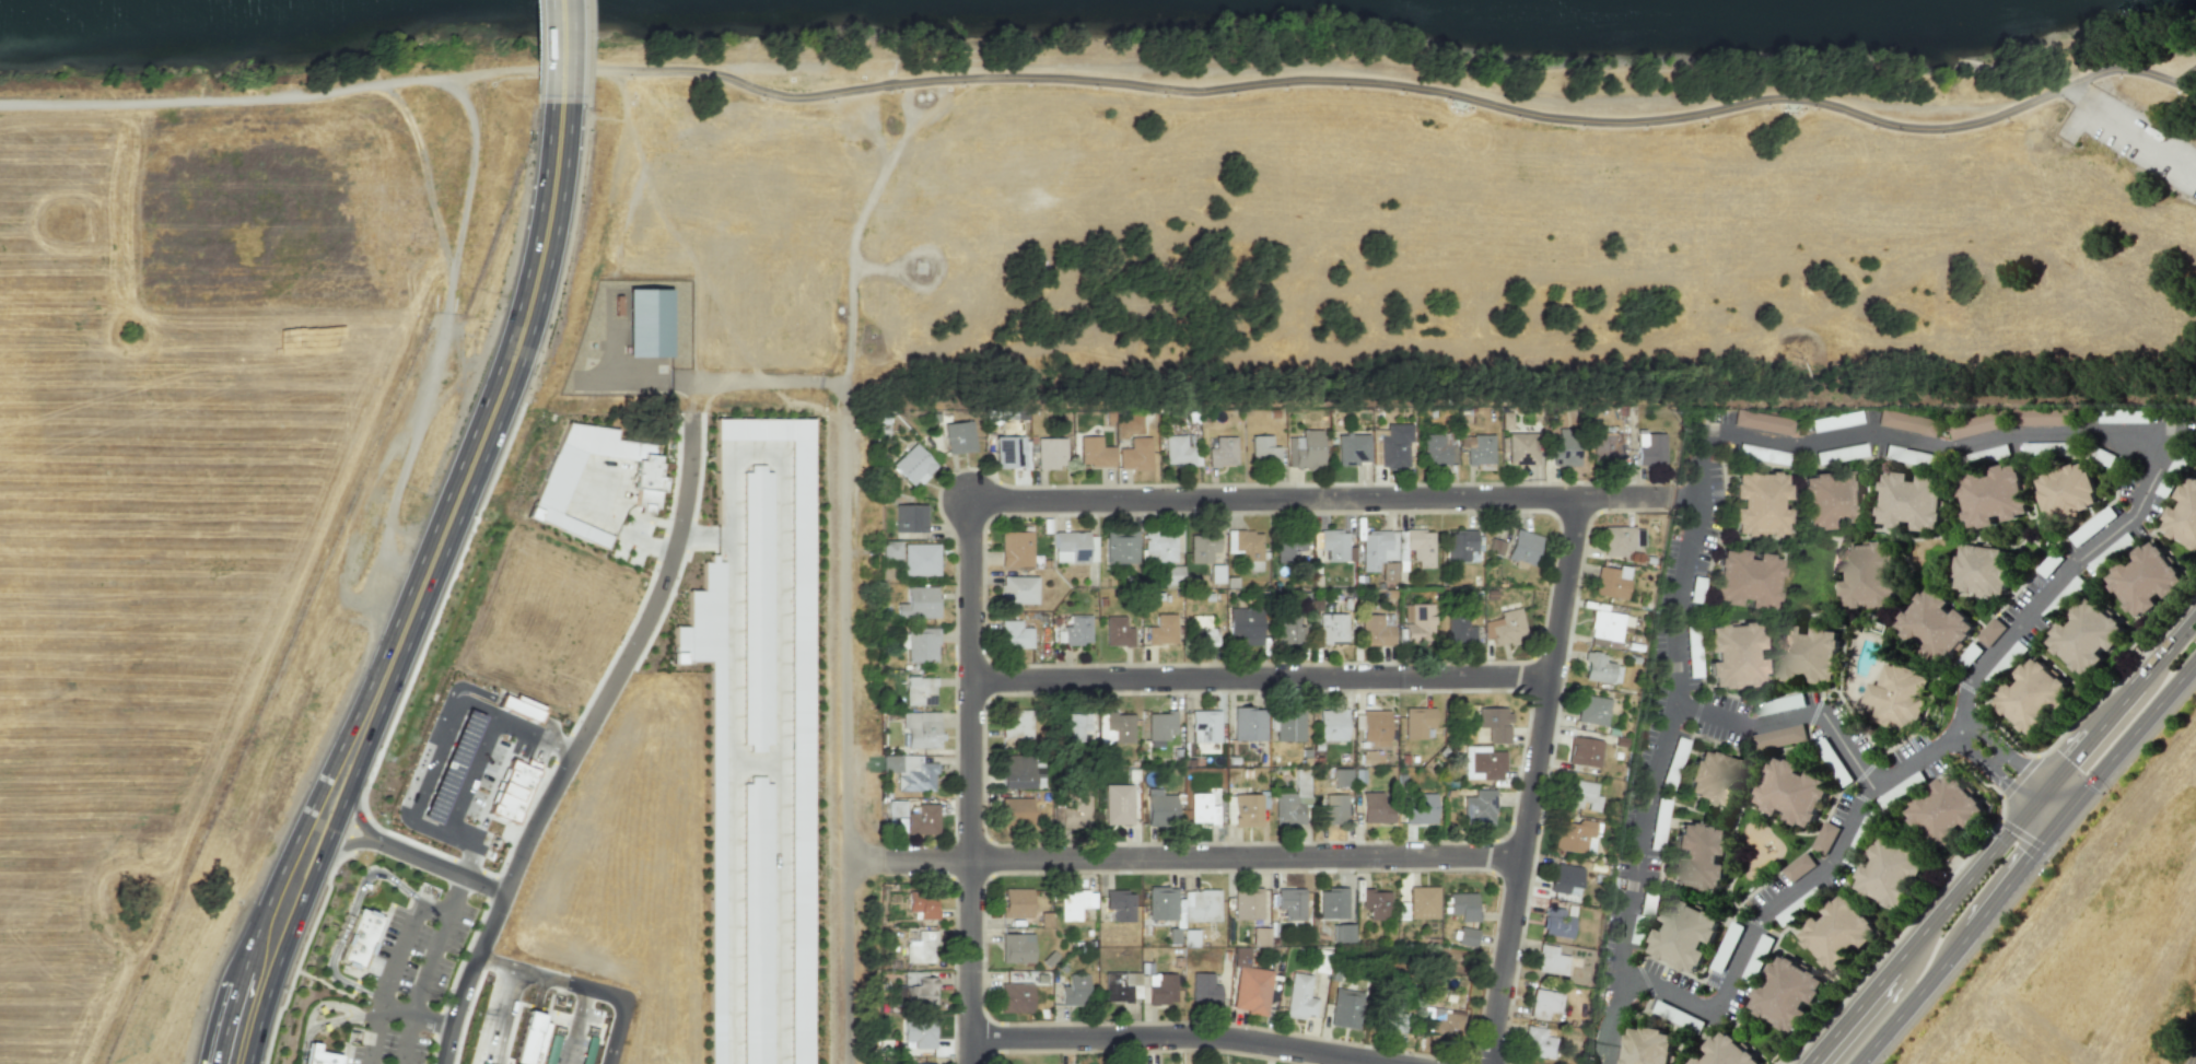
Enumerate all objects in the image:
road: (560, 49)
road: (706, 66)
road: (863, 67)
road: (513, 68)
road: (932, 79)
road: (399, 81)
road: (1575, 97)
road: (187, 103)
road: (855, 114)
parking lot: (2145, 142)
road: (424, 172)
road: (468, 183)
road: (671, 226)
road: (852, 241)
road: (907, 255)
road: (876, 266)
building: (649, 319)
street lamp: (527, 400)
road: (801, 404)
building: (2122, 413)
building: (2042, 414)
building: (1836, 419)
building: (1763, 420)
building: (1908, 421)
building: (1978, 422)
road: (483, 435)
building: (959, 435)
building: (1395, 444)
building: (1353, 446)
building: (1440, 446)
building: (1522, 446)
building: (1565, 446)
building: (1607, 446)
building: (1650, 446)
building: (2047, 446)
building: (1179, 448)
building: (1264, 448)
building: (1306, 448)
building: (1481, 448)
building: (1007, 449)
building: (1223, 449)
building: (1050, 451)
building: (1095, 451)
building: (1762, 452)
building: (1841, 452)
street lamp: (705, 453)
building: (1135, 453)
building: (1909, 454)
building: (1983, 454)
building: (2101, 454)
road: (2154, 454)
building: (913, 464)
building: (2172, 470)
building: (556, 480)
building: (2068, 488)
building: (1994, 492)
road: (1684, 496)
building: (1832, 496)
road: (1322, 498)
building: (1912, 498)
building: (1757, 501)
building: (2183, 513)
street lamp: (1183, 515)
building: (910, 516)
street lamp: (479, 518)
building: (2092, 524)
road: (698, 535)
building: (1617, 538)
road: (644, 540)
building: (1333, 542)
building: (1461, 542)
building: (1072, 543)
building: (1248, 543)
building: (1121, 545)
building: (1159, 545)
building: (1289, 545)
building: (1421, 545)
building: (1495, 545)
building: (1204, 546)
building: (1523, 546)
building: (1378, 547)
building: (890, 548)
building: (1015, 548)
building: (2110, 550)
building: (920, 558)
building: (2049, 562)
building: (1985, 568)
building: (1389, 570)
building: (1870, 572)
building: (1175, 573)
building: (1216, 573)
building: (1744, 576)
building: (2142, 576)
building: (1609, 582)
road: (845, 586)
building: (1018, 588)
building: (1696, 588)
street lamp: (674, 594)
building: (2061, 597)
building: (918, 601)
building: (757, 606)
building: (1420, 623)
building: (1605, 623)
building: (1937, 623)
building: (1245, 625)
building: (1508, 625)
building: (1332, 627)
building: (1460, 628)
building: (1076, 629)
building: (1163, 629)
building: (1118, 630)
building: (1203, 630)
building: (1289, 630)
building: (1376, 630)
building: (1991, 630)
building: (1014, 633)
building: (2083, 633)
street lamp: (431, 635)
street lamp: (619, 639)
building: (920, 643)
building: (1692, 650)
road: (2166, 650)
building: (1808, 652)
building: (1733, 653)
building: (1970, 653)
road: (624, 660)
building: (2005, 662)
building: (1597, 666)
road: (1261, 677)
road: (1965, 685)
road: (460, 686)
building: (919, 689)
building: (2031, 694)
street lamp: (1182, 695)
building: (1897, 695)
building: (1779, 703)
building: (521, 705)
building: (796, 706)
building: (1592, 709)
street lamp: (614, 710)
road: (1697, 710)
road: (1814, 711)
building: (1418, 721)
building: (1016, 722)
building: (1495, 722)
building: (1249, 723)
building: (1333, 723)
building: (1160, 724)
building: (1205, 724)
building: (1290, 724)
building: (1120, 725)
road: (447, 726)
building: (1073, 726)
building: (1376, 726)
road: (1667, 726)
road: (554, 727)
building: (921, 728)
road: (2130, 733)
road: (535, 736)
building: (1779, 736)
road: (2092, 736)
building: (1584, 751)
road: (2005, 751)
building: (1835, 760)
building: (1673, 761)
building: (890, 762)
building: (1488, 762)
building: (711, 764)
gas station: (451, 765)
building: (1016, 770)
road: (1991, 770)
road: (1864, 771)
building: (1343, 775)
building: (1714, 776)
building: (916, 777)
road: (1533, 780)
road: (970, 782)
building: (1902, 788)
traffic signals: (2046, 788)
building: (513, 790)
building: (1794, 791)
building: (1581, 794)
road: (1862, 797)
road: (2039, 797)
road: (2056, 798)
building: (1293, 800)
road: (355, 802)
road: (329, 803)
building: (1480, 806)
building: (895, 807)
building: (1376, 807)
building: (1421, 807)
traffic signals: (2031, 807)
building: (1117, 808)
building: (1203, 808)
traffic signals: (2067, 808)
building: (1161, 809)
building: (1248, 809)
building: (1333, 809)
building: (1947, 809)
building: (1015, 810)
building: (1076, 811)
road: (2041, 816)
road: (2059, 817)
building: (922, 819)
street lamp: (552, 821)
building: (1658, 822)
traffic signals: (2052, 826)
building: (1574, 834)
building: (1826, 837)
building: (1860, 840)
road: (343, 843)
road: (1838, 846)
road: (1184, 855)
building: (1699, 855)
street lamp: (1949, 858)
building: (1799, 866)
building: (1892, 870)
building: (1565, 877)
road: (2010, 877)
road: (455, 895)
building: (1423, 901)
building: (1016, 902)
building: (1161, 902)
building: (1247, 902)
building: (1292, 902)
building: (1333, 902)
building: (921, 903)
building: (1075, 903)
building: (1120, 903)
building: (1376, 903)
building: (1799, 904)
building: (1202, 905)
building: (1463, 905)
road: (434, 908)
road: (494, 914)
building: (1643, 916)
road: (348, 917)
building: (1046, 919)
building: (758, 921)
building: (1555, 922)
road: (1755, 922)
building: (1838, 932)
building: (1342, 933)
building: (1467, 935)
building: (1684, 935)
road: (1918, 935)
building: (1260, 936)
building: (1190, 937)
building: (359, 938)
building: (919, 946)
building: (1727, 946)
building: (1016, 947)
crop: (2091, 947)
road: (400, 949)
road: (266, 956)
street lamp: (489, 956)
building: (1050, 958)
building: (1756, 959)
building: (1550, 960)
building: (1320, 961)
road: (954, 970)
road: (579, 985)
road: (419, 987)
building: (1117, 987)
building: (1204, 989)
building: (1074, 990)
building: (1161, 990)
building: (1251, 990)
building: (920, 992)
building: (1787, 993)
road: (1911, 995)
building: (1299, 996)
building: (1015, 997)
road: (327, 1003)
building: (1543, 1003)
building: (1346, 1008)
road: (409, 1014)
building: (1392, 1015)
road: (486, 1016)
building: (1679, 1016)
road: (323, 1022)
road: (574, 1026)
building: (1447, 1027)
building: (919, 1032)
road: (372, 1034)
road: (1185, 1037)
building: (528, 1039)
building: (551, 1041)
road: (1599, 1041)
building: (1537, 1042)
road: (1611, 1042)
building: (1648, 1047)
building: (1726, 1052)
building: (318, 1055)
road: (2193, 1057)
road: (2194, 1061)
building: (924, 1063)
street lamp: (1784, 1063)

